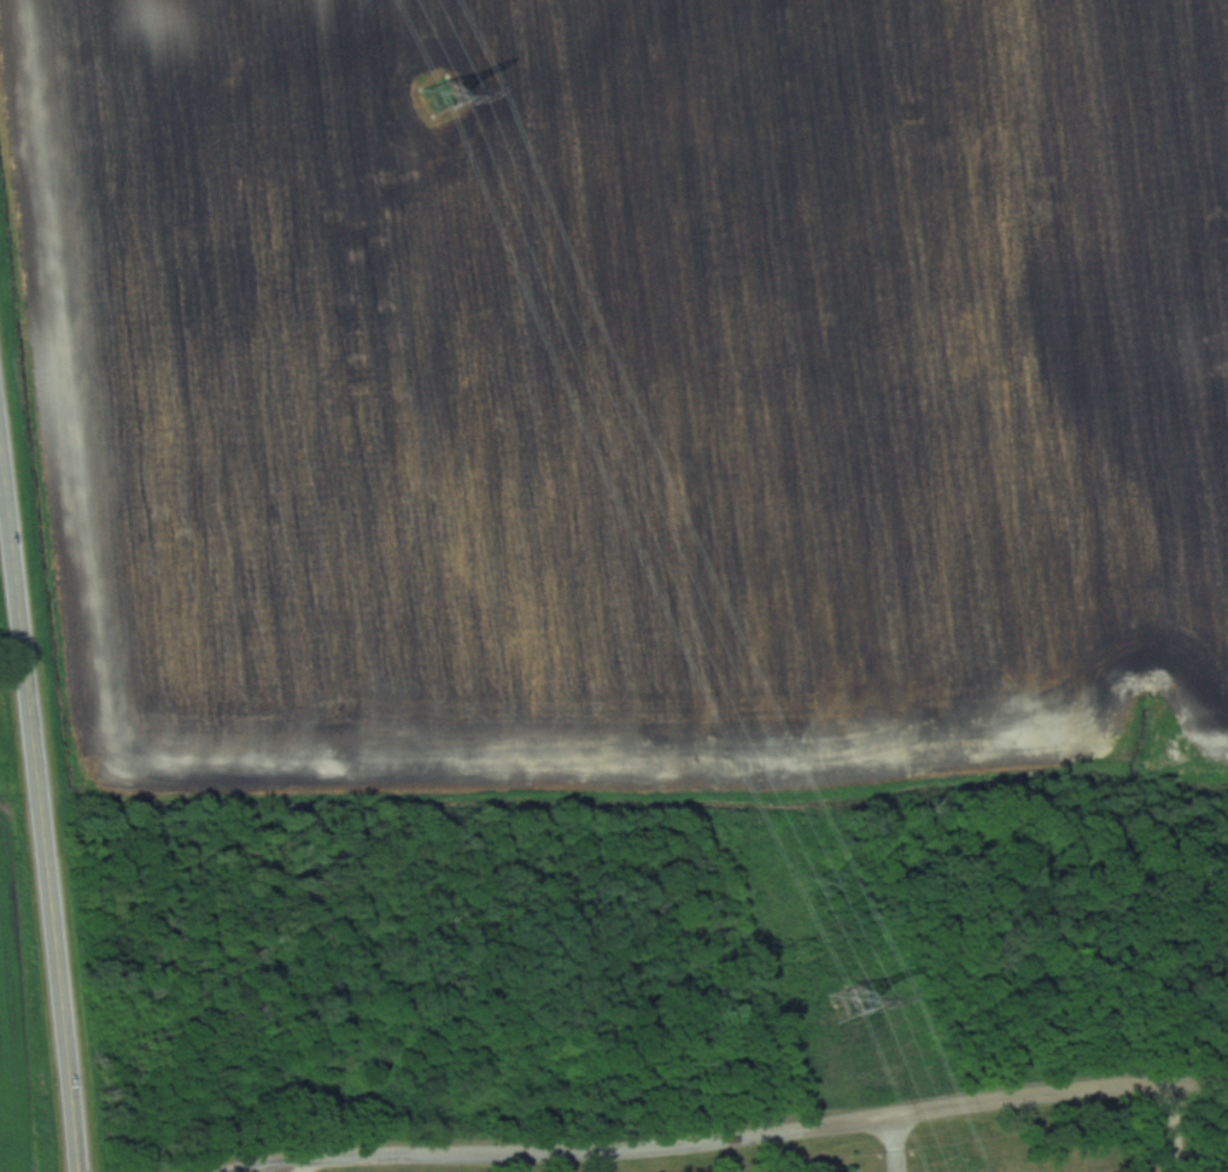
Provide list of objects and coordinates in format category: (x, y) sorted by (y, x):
power tower: (442, 104)
road: (39, 811)
power tower: (847, 1010)
road: (735, 1137)
road: (891, 1142)
road: (527, 1161)
road: (300, 1166)

